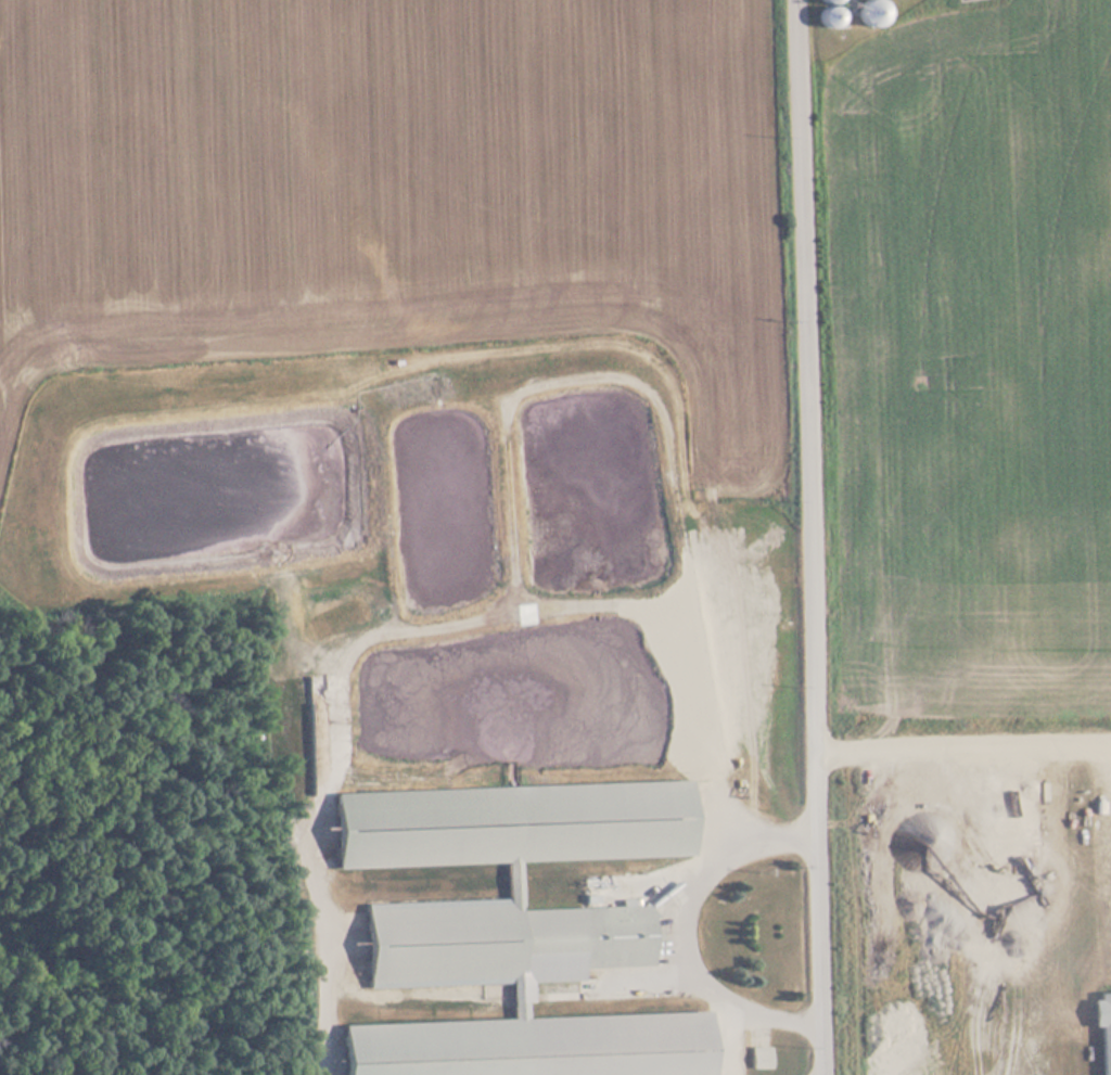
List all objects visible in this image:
building: (829, 2)
building: (872, 15)
building: (830, 20)
road: (812, 537)
road: (390, 624)
road: (680, 919)
building: (515, 926)
road: (721, 1033)
building: (759, 1058)

